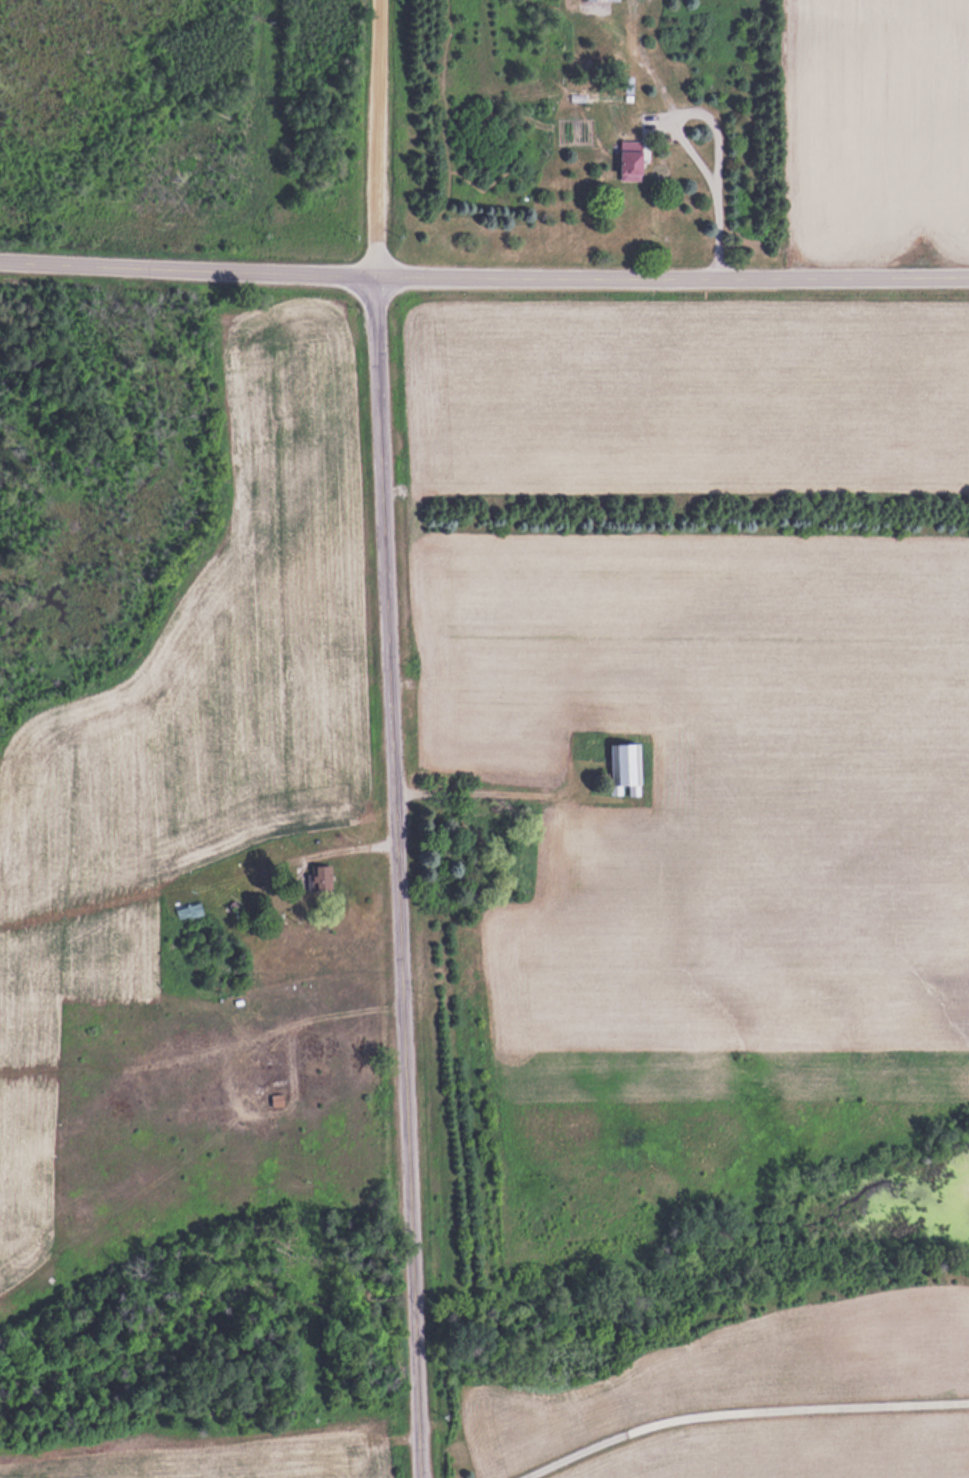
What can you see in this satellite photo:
building: (592, 0)
road: (717, 132)
building: (632, 160)
road: (484, 276)
road: (392, 739)
building: (626, 765)
building: (322, 875)
road: (738, 1410)

